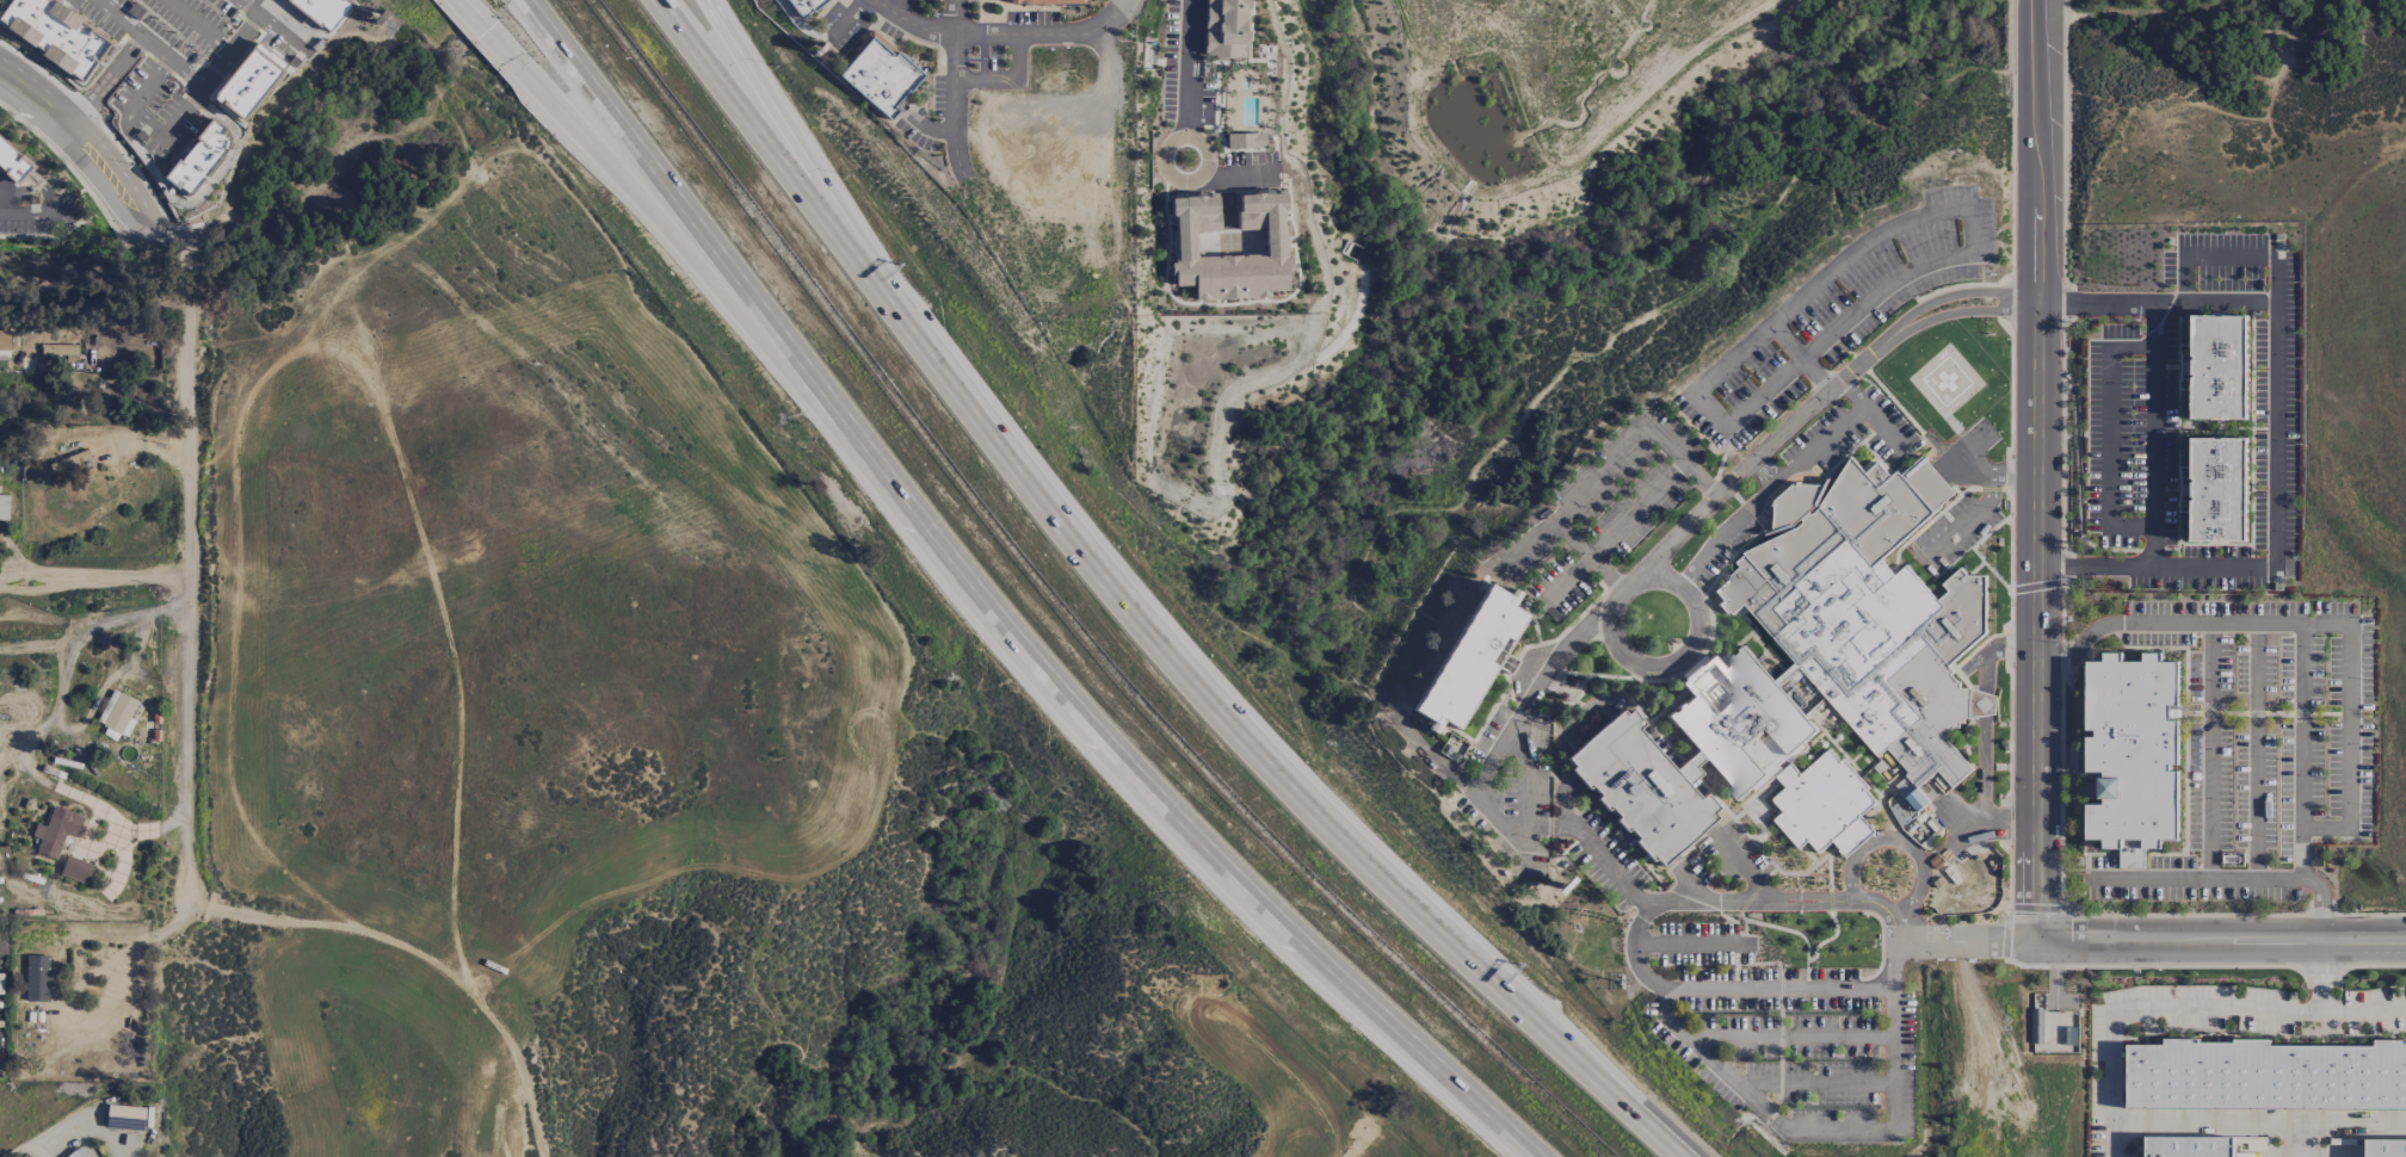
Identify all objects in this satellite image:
building: (1013, 1)
building: (1051, 1)
road: (249, 6)
building: (807, 6)
building: (320, 11)
building: (20, 14)
road: (473, 14)
flagpole: (988, 14)
road: (958, 17)
road: (118, 19)
road: (845, 19)
road: (800, 23)
road: (918, 23)
road: (199, 24)
building: (1224, 29)
building: (50, 30)
traffic signals: (487, 30)
road: (283, 32)
road: (1048, 35)
road: (2203, 38)
road: (229, 47)
building: (84, 56)
road: (172, 60)
road: (1113, 70)
building: (881, 76)
road: (1189, 78)
building: (248, 80)
road: (1010, 80)
road: (764, 86)
road: (100, 88)
road: (730, 89)
road: (2272, 98)
road: (955, 105)
road: (143, 123)
road: (931, 128)
building: (205, 148)
road: (603, 150)
building: (13, 161)
road: (1227, 173)
building: (183, 177)
road: (198, 194)
road: (6, 204)
road: (23, 211)
building: (1275, 242)
road: (2231, 255)
road: (1845, 259)
road: (1958, 291)
road: (1963, 309)
building: (4, 340)
road: (1787, 341)
building: (58, 352)
building: (2222, 370)
helipad: (1945, 380)
road: (1884, 431)
road: (2274, 433)
road: (2109, 434)
road: (2153, 435)
road: (1969, 464)
road: (187, 465)
road: (2037, 470)
road: (1765, 471)
road: (1598, 474)
road: (1781, 481)
building: (2221, 491)
road: (1795, 503)
road: (1987, 503)
road: (1637, 507)
road: (1524, 543)
road: (1074, 551)
road: (94, 576)
road: (1568, 580)
road: (994, 610)
building: (1869, 614)
road: (1587, 624)
road: (2348, 645)
road: (1683, 652)
building: (1470, 658)
building: (116, 711)
road: (2303, 724)
road: (1982, 741)
road: (2211, 751)
road: (2257, 751)
building: (2135, 755)
road: (1431, 760)
building: (1723, 763)
road: (1562, 802)
road: (1963, 830)
building: (55, 831)
road: (1899, 840)
road: (1593, 848)
road: (1742, 868)
building: (75, 870)
road: (2207, 883)
road: (1747, 904)
road: (1898, 932)
road: (2222, 941)
road: (1966, 942)
road: (1690, 945)
road: (419, 955)
building: (37, 978)
road: (2326, 978)
road: (1778, 984)
road: (2188, 1007)
road: (1532, 1023)
road: (1790, 1037)
building: (2265, 1076)
road: (1815, 1082)
road: (1777, 1116)
road: (2257, 1122)
road: (2301, 1140)
road: (30, 1144)
building: (2189, 1146)
building: (2385, 1149)
building: (76, 1153)

